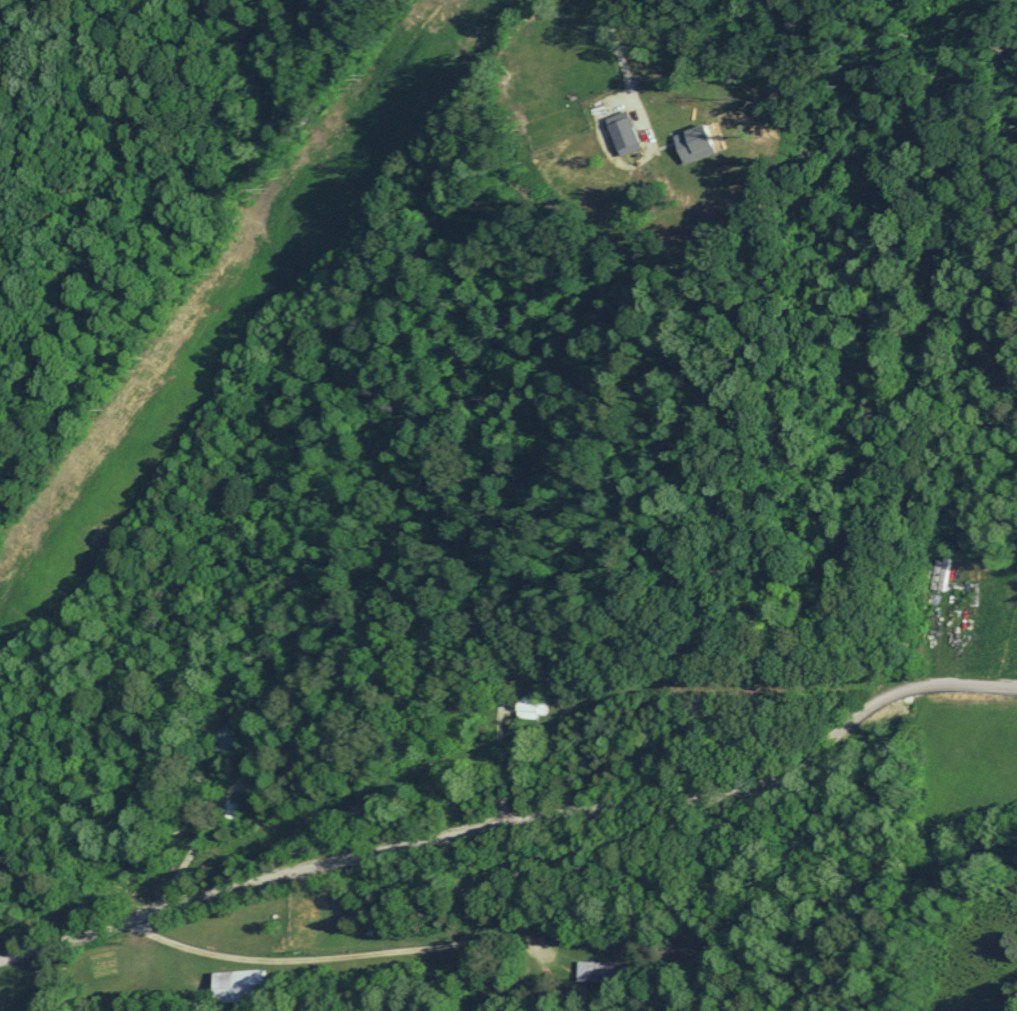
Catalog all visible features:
building: (530, 707)
building: (226, 732)
building: (230, 809)
road: (514, 818)
road: (441, 951)
building: (598, 971)
building: (238, 985)

